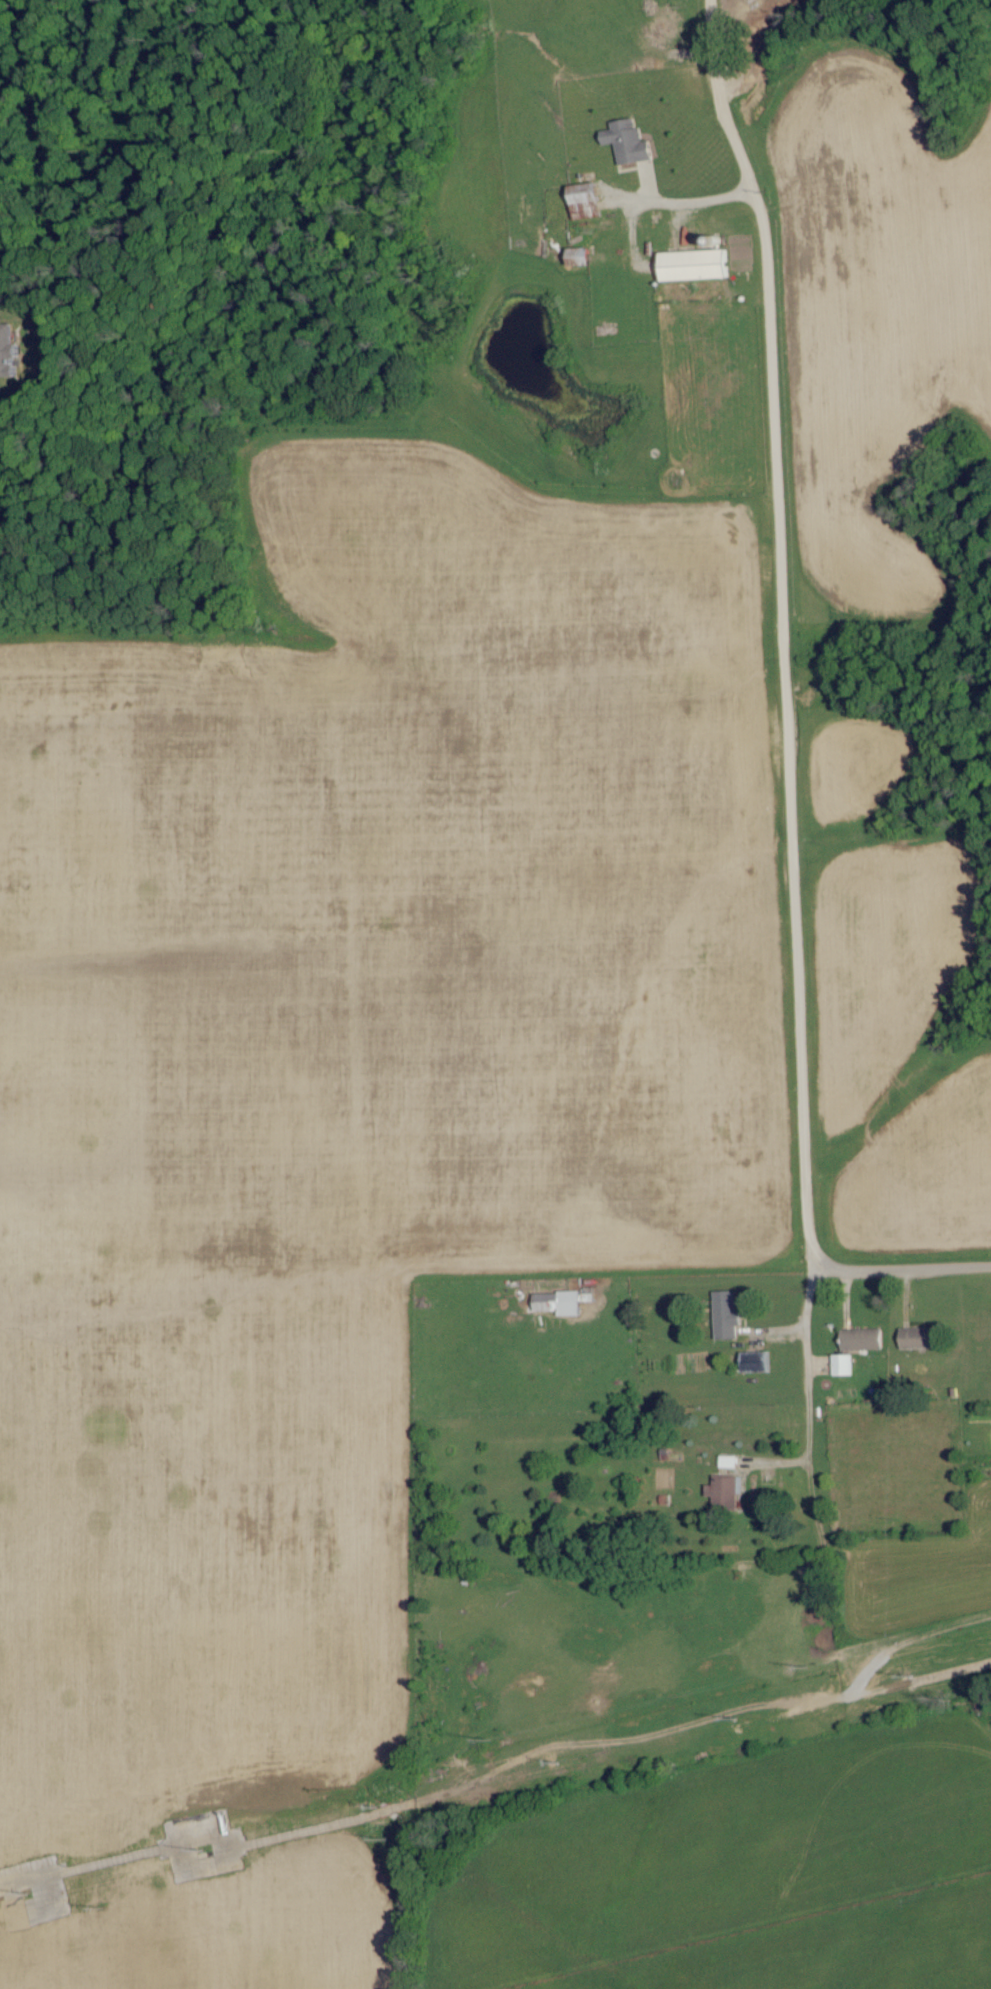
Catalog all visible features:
building: (632, 142)
building: (590, 201)
building: (585, 243)
building: (586, 256)
building: (700, 265)
building: (10, 352)
road: (803, 716)
road: (807, 1293)
building: (568, 1304)
building: (729, 1316)
building: (923, 1339)
building: (864, 1340)
building: (759, 1363)
building: (844, 1366)
road: (808, 1423)
building: (726, 1492)

